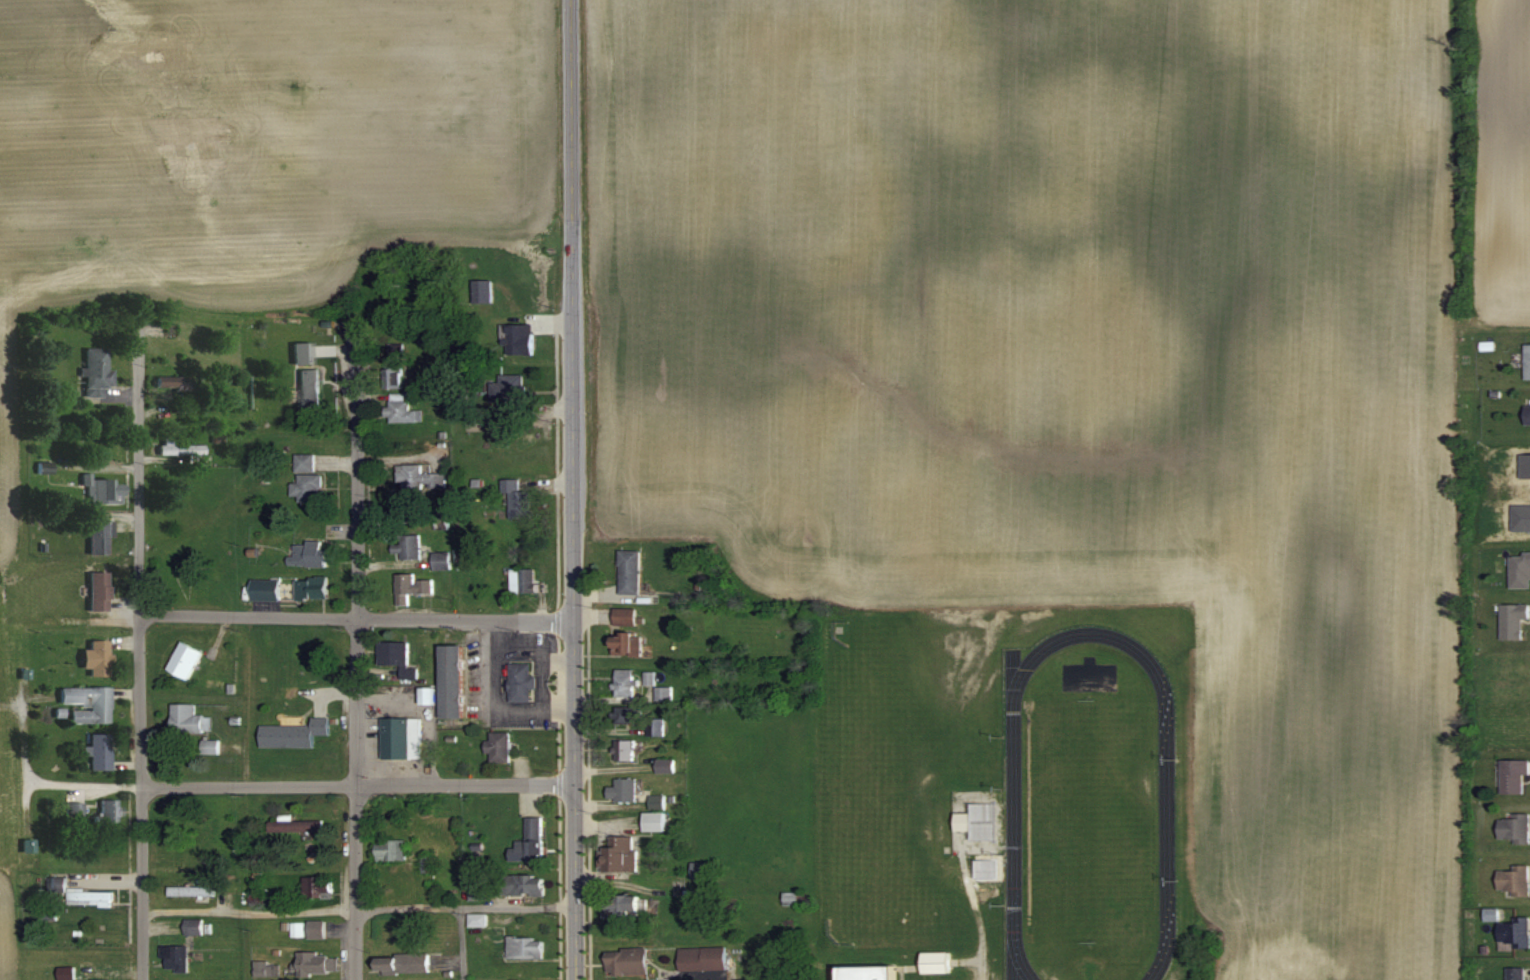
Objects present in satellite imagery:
building: (483, 289)
building: (518, 337)
building: (303, 352)
building: (1527, 361)
building: (394, 364)
building: (97, 370)
building: (173, 382)
building: (310, 387)
building: (511, 395)
building: (402, 408)
building: (1528, 412)
building: (180, 449)
building: (305, 462)
building: (44, 463)
building: (421, 477)
building: (308, 487)
building: (102, 489)
road: (563, 490)
building: (519, 498)
building: (413, 510)
building: (100, 536)
building: (407, 546)
building: (309, 553)
building: (177, 559)
building: (1520, 568)
building: (631, 571)
building: (524, 579)
building: (412, 586)
building: (313, 587)
building: (267, 589)
building: (99, 590)
building: (627, 615)
road: (351, 617)
building: (1515, 619)
building: (629, 643)
building: (397, 656)
building: (99, 657)
road: (136, 657)
building: (186, 658)
road: (351, 662)
building: (454, 679)
building: (626, 681)
building: (523, 682)
building: (665, 692)
building: (87, 702)
building: (630, 713)
building: (190, 717)
building: (657, 725)
building: (296, 732)
building: (402, 736)
building: (499, 746)
building: (626, 748)
building: (99, 750)
building: (667, 764)
building: (1515, 773)
road: (47, 783)
road: (461, 786)
building: (625, 788)
building: (73, 809)
building: (109, 810)
building: (657, 812)
road: (1013, 819)
track: (1013, 819)
park: (1090, 819)
building: (980, 820)
building: (297, 824)
building: (1515, 825)
building: (530, 841)
building: (392, 849)
building: (620, 853)
building: (428, 863)
building: (702, 869)
building: (1515, 878)
building: (58, 882)
building: (523, 883)
building: (317, 886)
building: (192, 890)
building: (477, 892)
building: (90, 895)
building: (625, 904)
road: (355, 908)
building: (194, 925)
building: (317, 928)
building: (1515, 931)
road: (464, 943)
building: (527, 945)
building: (176, 956)
building: (704, 957)
building: (628, 960)
building: (405, 961)
building: (938, 961)
building: (317, 962)
building: (268, 968)
building: (66, 972)
building: (870, 972)
building: (1517, 972)

